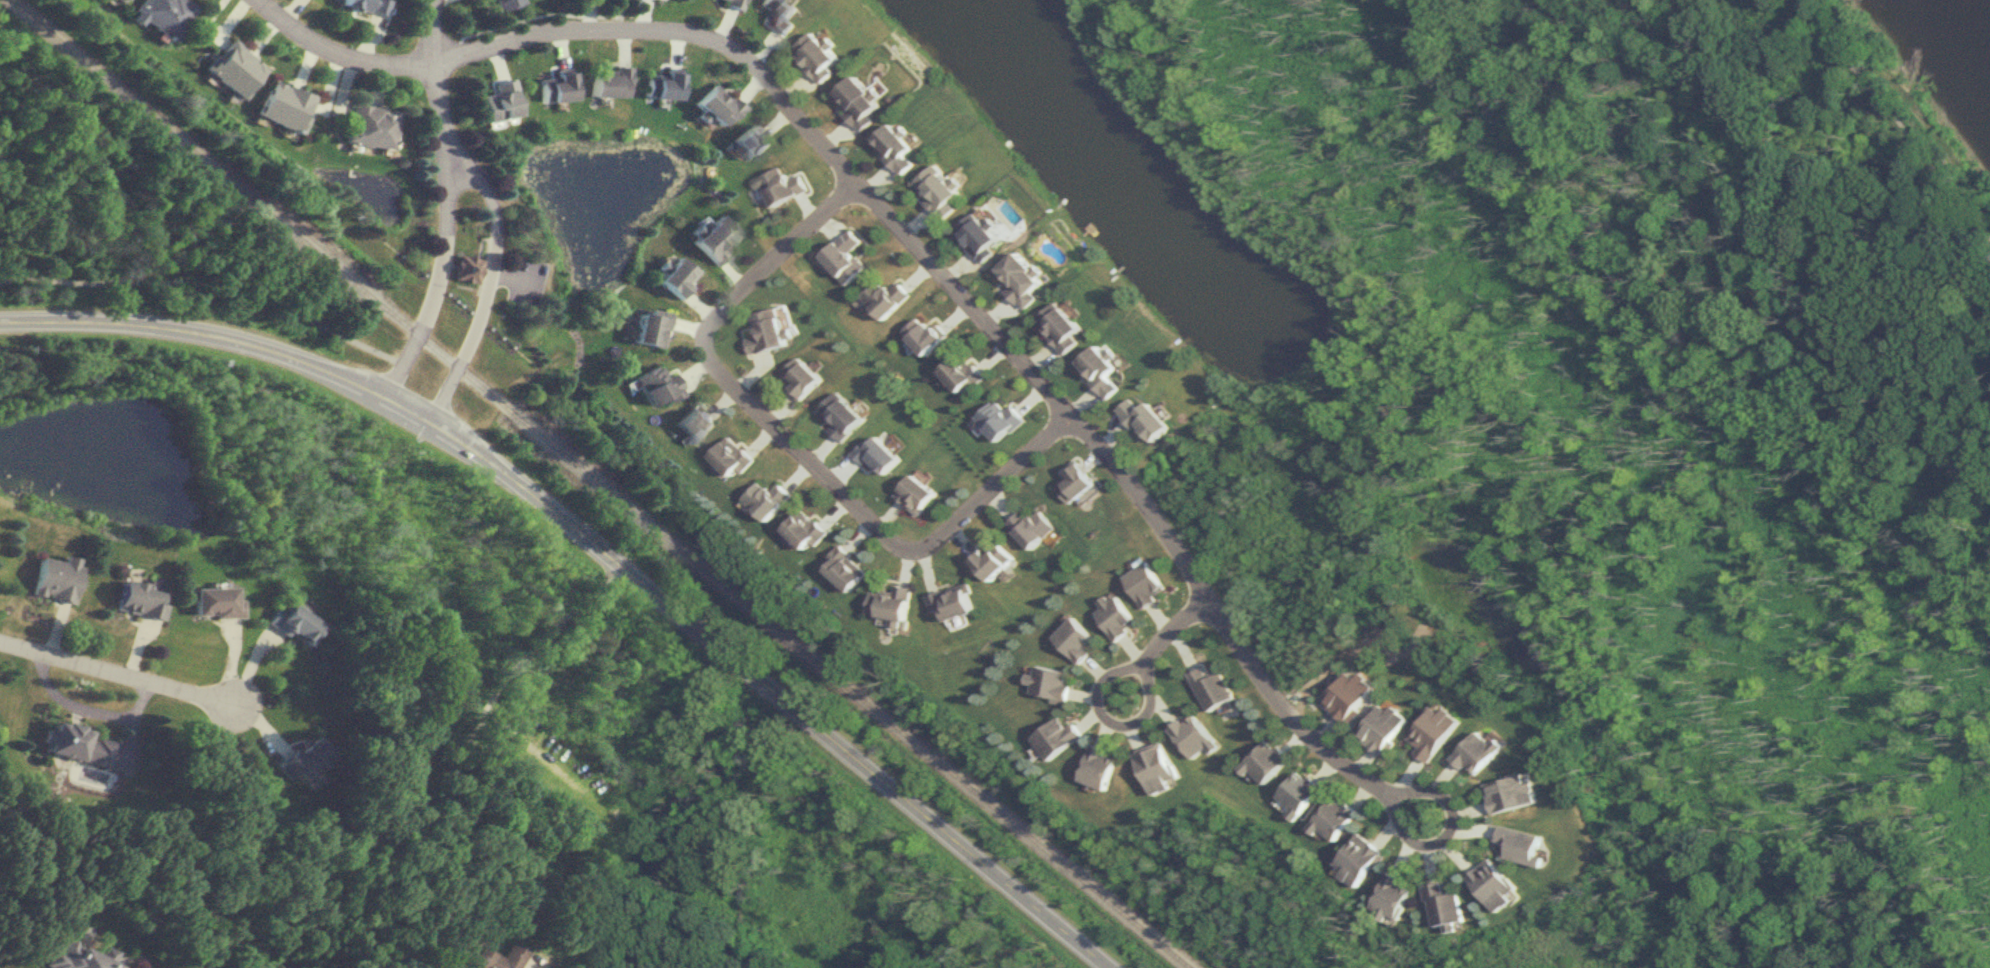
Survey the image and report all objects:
building: (118, 0)
river: (1989, 0)
building: (731, 2)
building: (502, 3)
building: (367, 5)
road: (616, 13)
building: (163, 14)
building: (780, 14)
road: (527, 16)
road: (336, 50)
building: (821, 56)
building: (235, 67)
road: (429, 72)
building: (609, 82)
building: (662, 85)
building: (556, 86)
road: (1908, 99)
building: (499, 101)
building: (862, 103)
building: (286, 105)
building: (715, 105)
building: (371, 126)
park: (1566, 136)
building: (751, 141)
building: (899, 148)
building: (783, 186)
building: (941, 191)
park: (134, 215)
building: (984, 238)
building: (715, 239)
building: (847, 258)
building: (467, 269)
road: (212, 273)
road: (438, 276)
building: (676, 276)
building: (1025, 279)
road: (488, 281)
building: (888, 298)
building: (1065, 326)
building: (650, 328)
building: (769, 331)
building: (928, 335)
building: (1104, 369)
building: (965, 373)
road: (1033, 373)
building: (804, 378)
building: (656, 386)
building: (842, 415)
building: (999, 420)
building: (1151, 420)
building: (695, 423)
road: (795, 444)
building: (881, 455)
building: (733, 456)
railway: (599, 483)
building: (1079, 483)
building: (919, 494)
building: (768, 499)
building: (1036, 527)
building: (807, 530)
park: (1781, 536)
road: (598, 549)
building: (996, 560)
building: (847, 569)
building: (56, 579)
building: (1148, 584)
building: (139, 600)
building: (215, 602)
building: (955, 602)
building: (893, 604)
building: (1117, 616)
building: (293, 624)
building: (1078, 640)
road: (518, 669)
road: (115, 670)
road: (1104, 680)
building: (1051, 683)
building: (1214, 687)
building: (1352, 695)
road: (86, 708)
building: (1385, 727)
building: (1437, 731)
building: (1196, 736)
building: (1059, 737)
building: (78, 744)
building: (1482, 753)
building: (304, 758)
building: (1268, 761)
building: (1100, 768)
building: (1158, 768)
road: (566, 772)
building: (1515, 793)
building: (1302, 794)
building: (1336, 819)
building: (1525, 846)
road: (546, 855)
building: (1361, 860)
building: (1496, 886)
building: (1394, 898)
building: (1447, 905)
building: (76, 956)
building: (494, 958)

